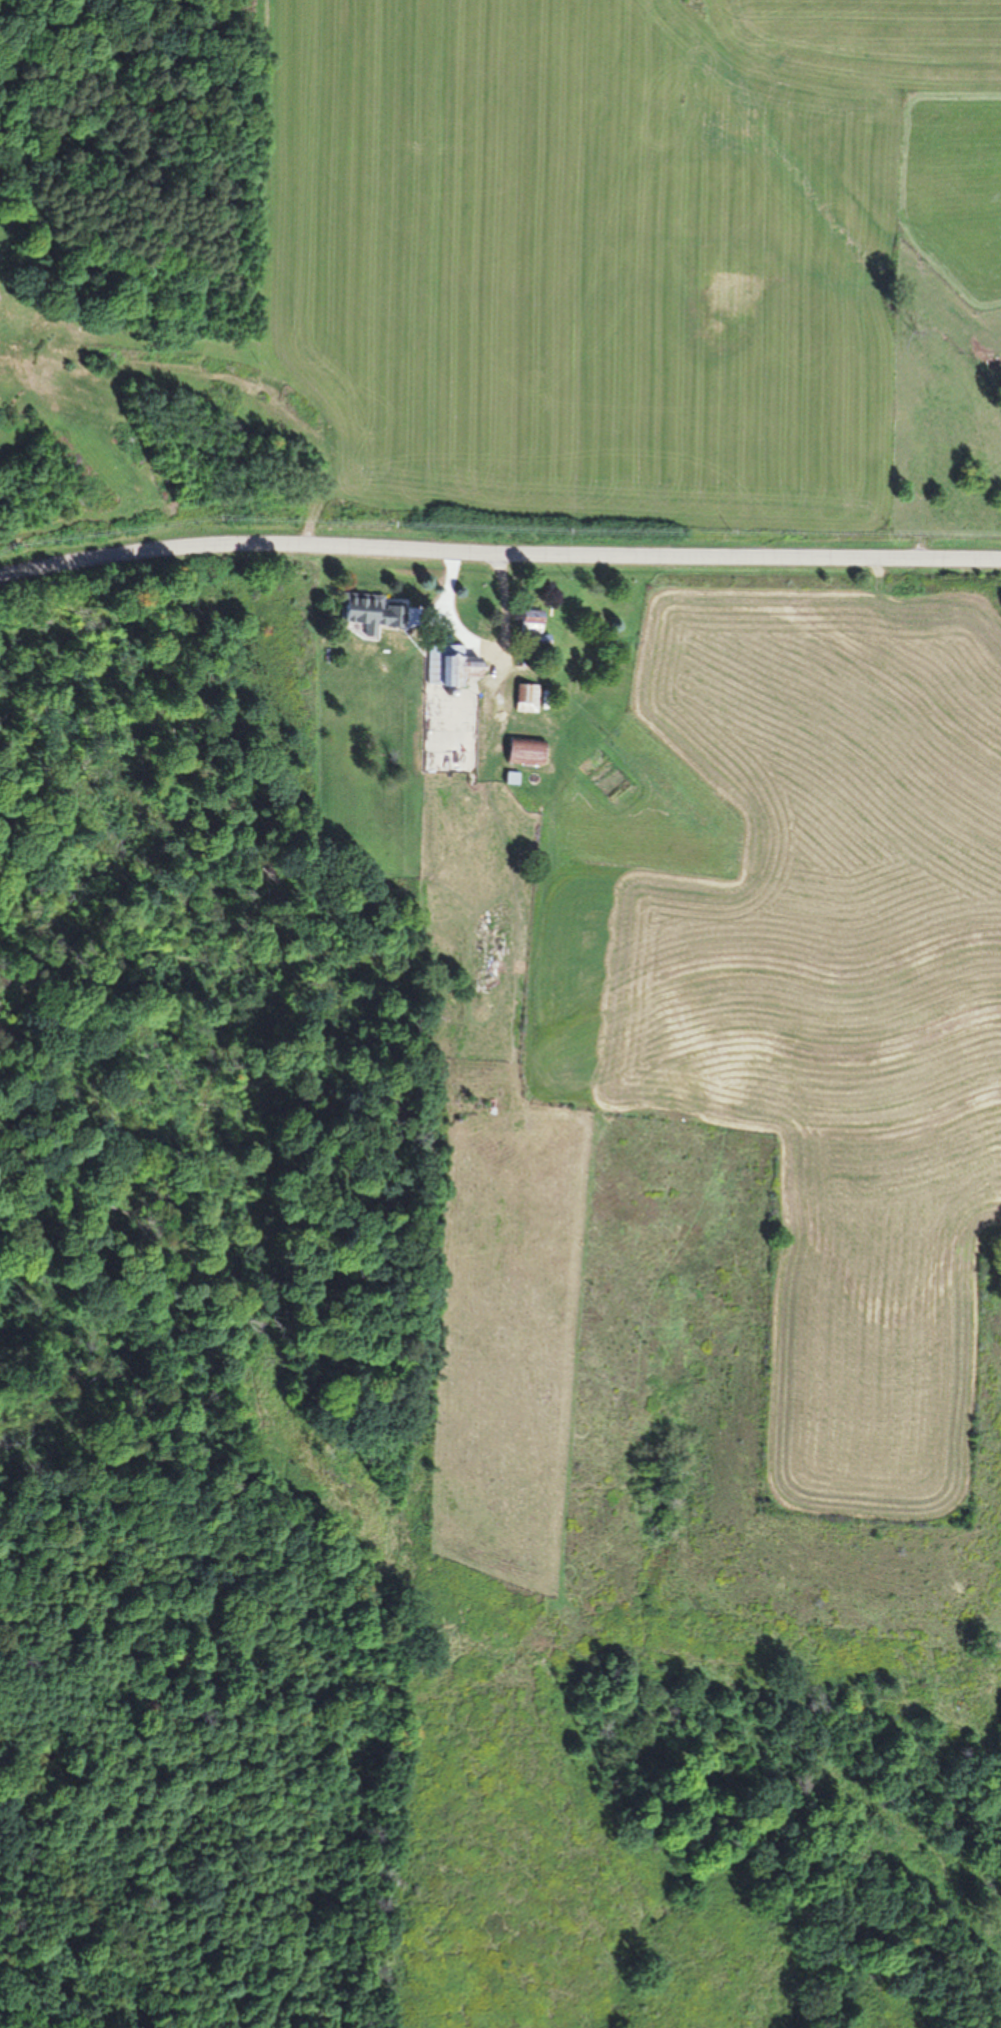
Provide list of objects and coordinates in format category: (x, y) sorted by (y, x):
road: (498, 553)
building: (364, 612)
building: (531, 634)
building: (449, 666)
building: (525, 698)
building: (522, 751)

